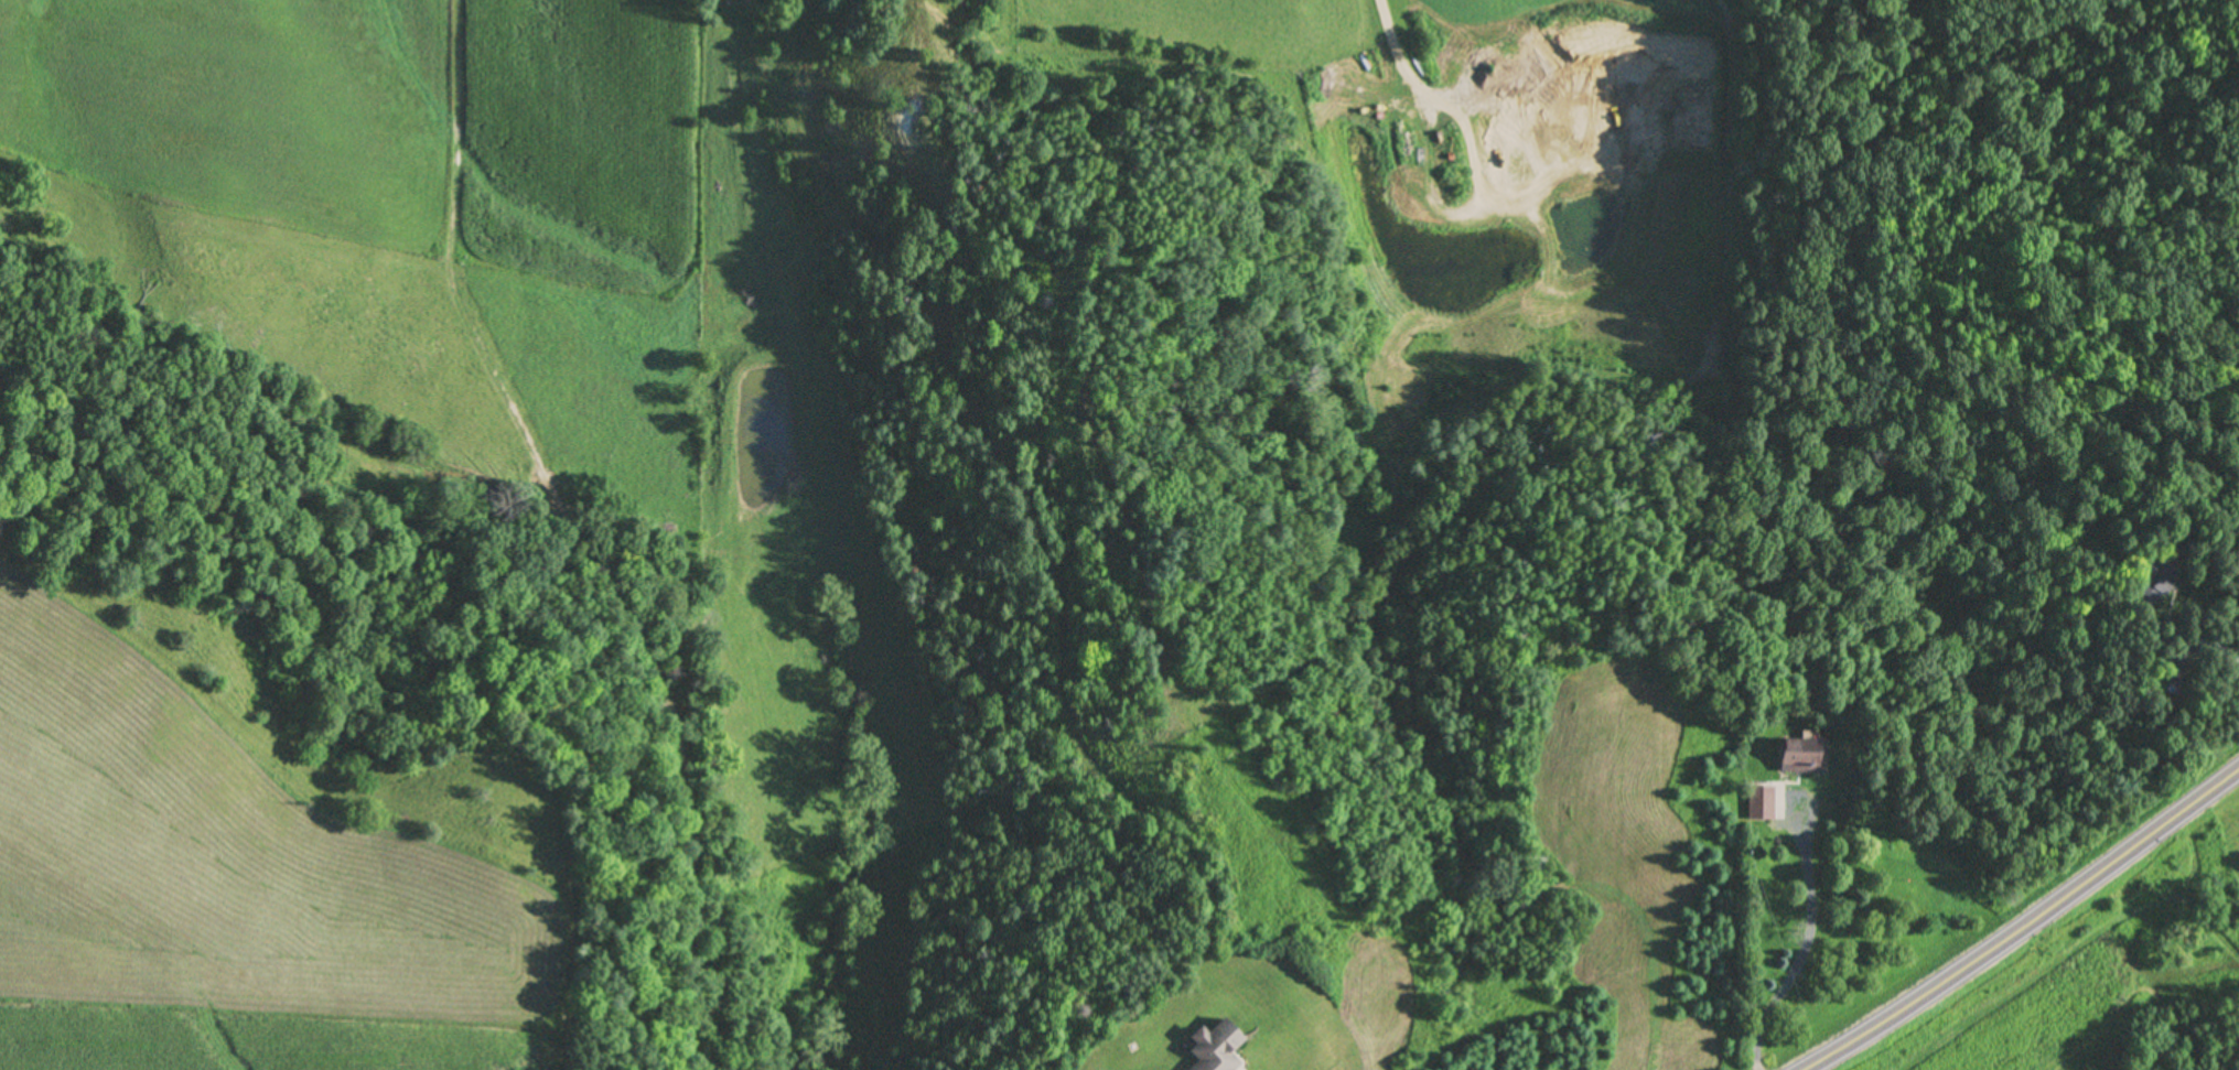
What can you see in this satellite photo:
road: (1439, 102)
building: (2154, 580)
building: (1797, 756)
building: (1759, 803)
road: (2019, 930)
road: (1808, 939)
building: (1215, 1047)

